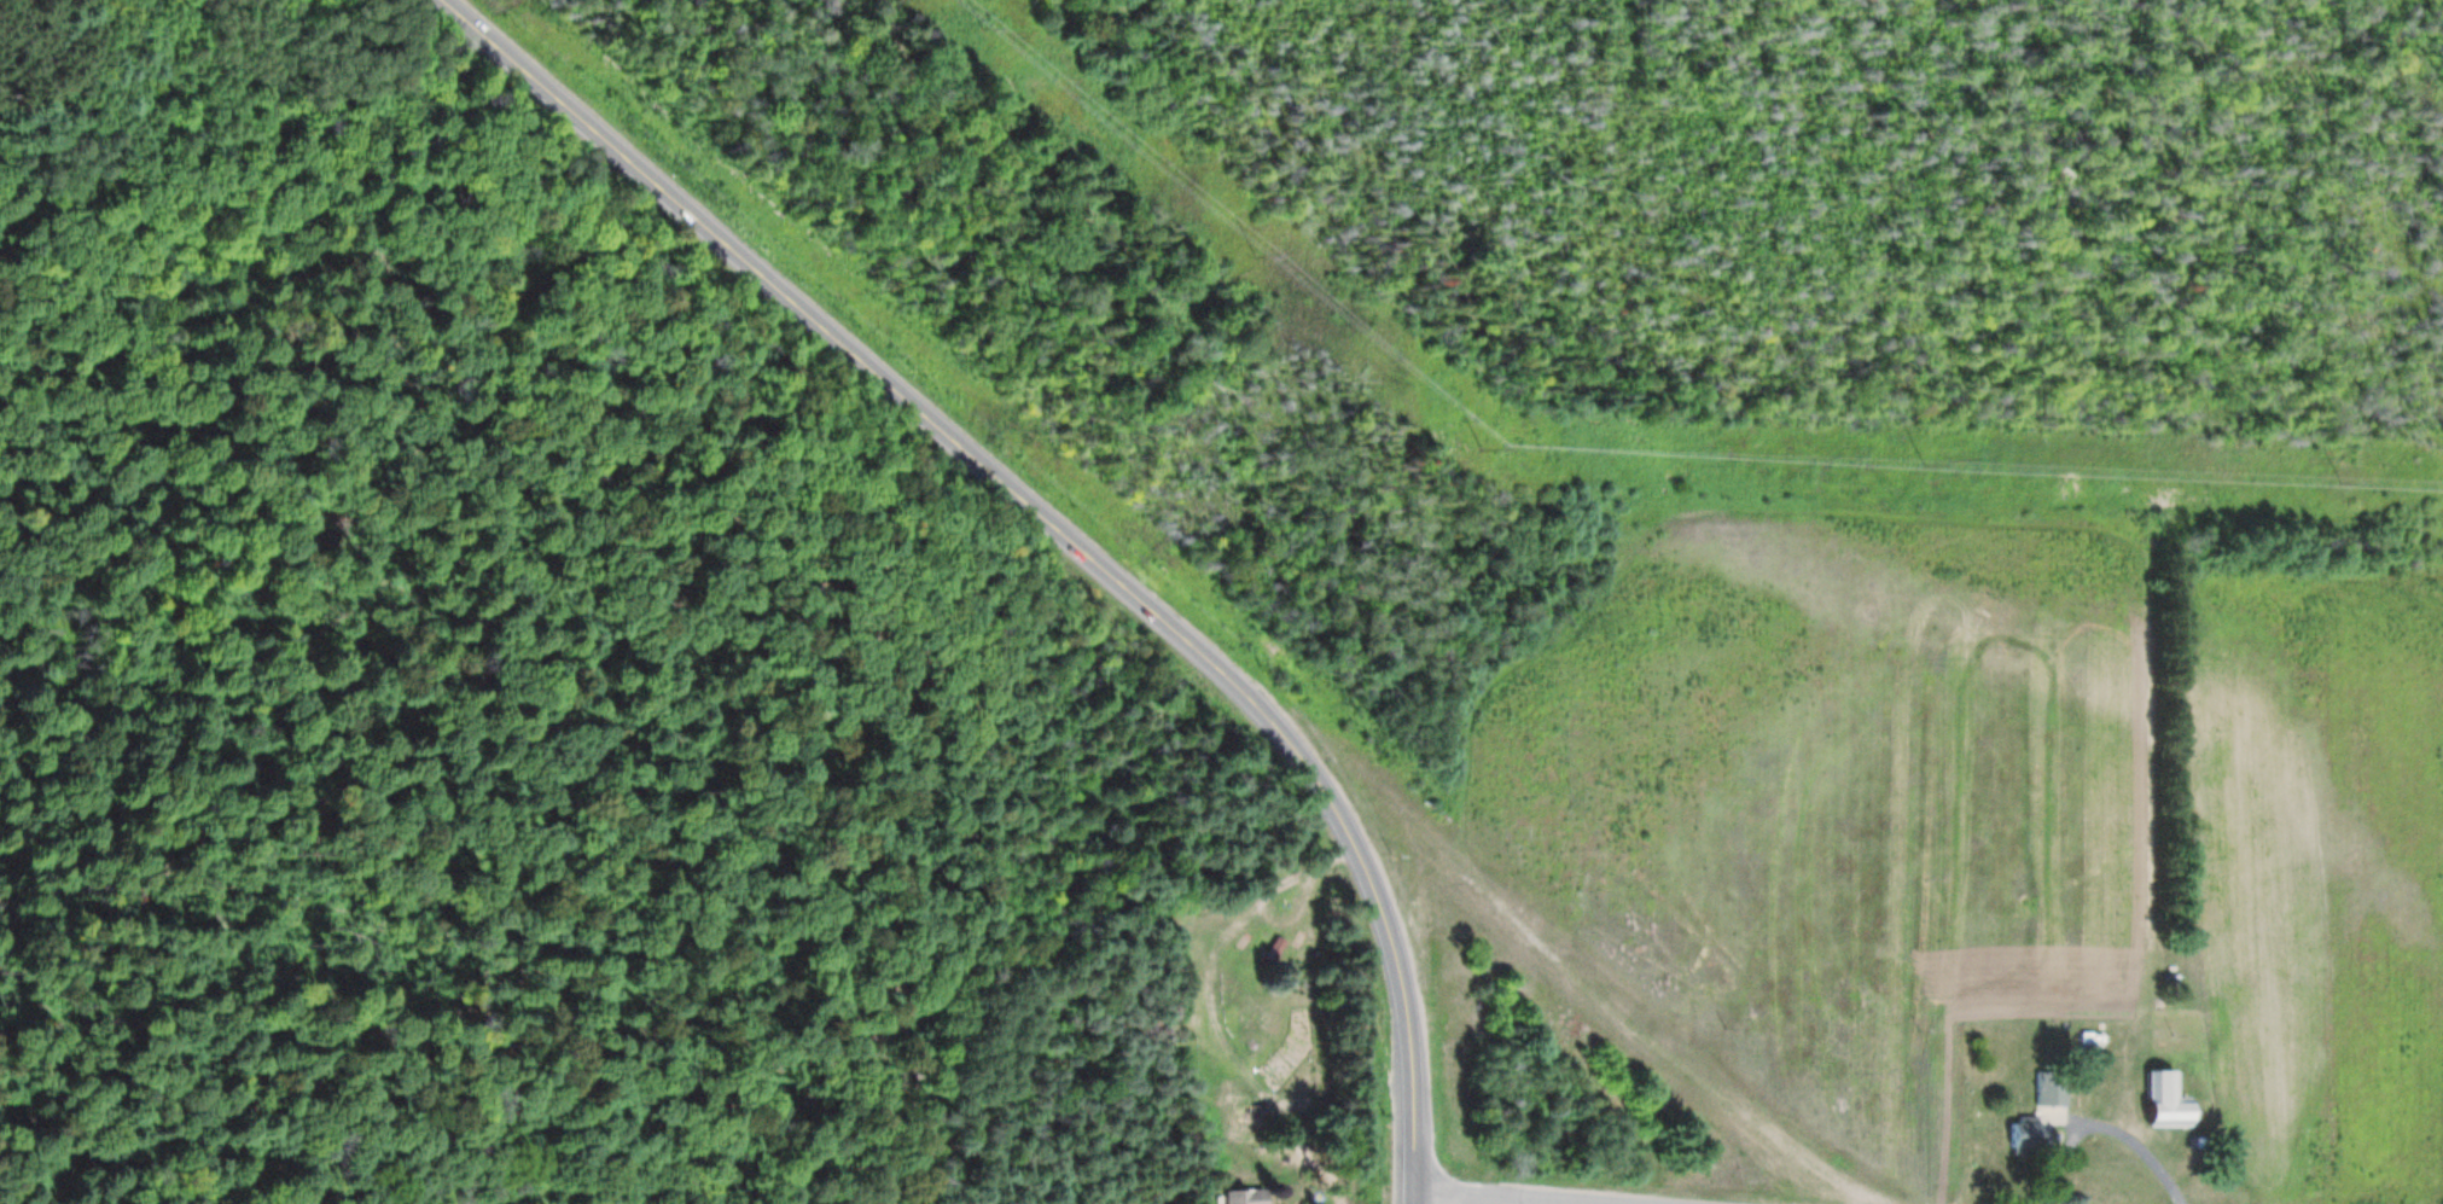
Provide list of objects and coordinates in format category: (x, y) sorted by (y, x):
road: (1049, 522)
building: (2048, 1090)
building: (2159, 1099)
building: (2016, 1133)
road: (1413, 1198)
road: (1487, 1198)

